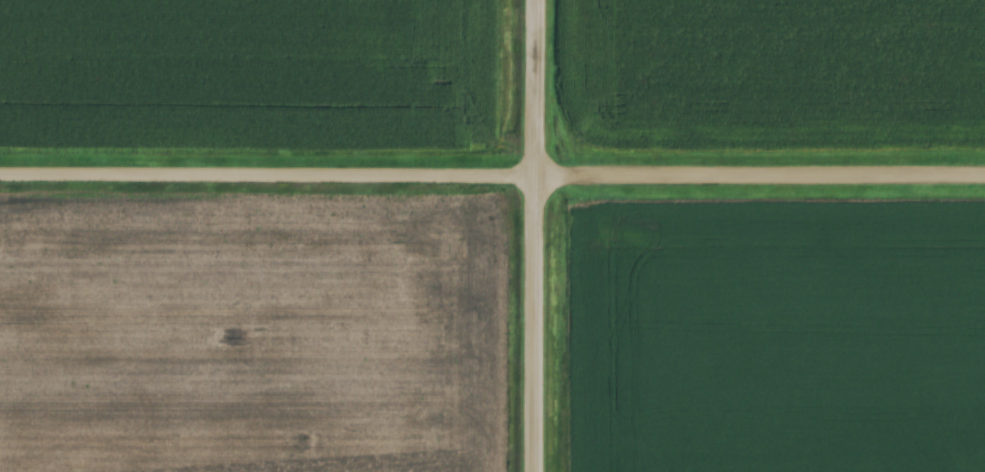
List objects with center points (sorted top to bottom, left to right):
road: (492, 183)
road: (541, 236)

